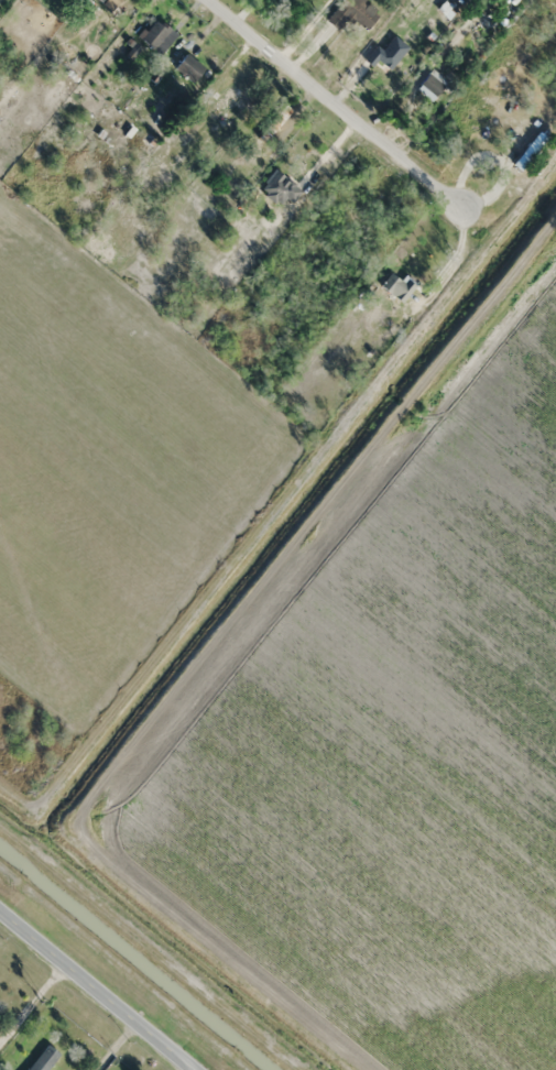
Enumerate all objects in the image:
building: (102, 0)
building: (324, 0)
building: (353, 13)
building: (157, 36)
building: (388, 53)
building: (188, 67)
building: (432, 84)
road: (328, 99)
building: (224, 100)
building: (471, 119)
building: (274, 123)
building: (280, 188)
building: (395, 290)
road: (99, 987)
building: (43, 1059)
road: (168, 1060)

